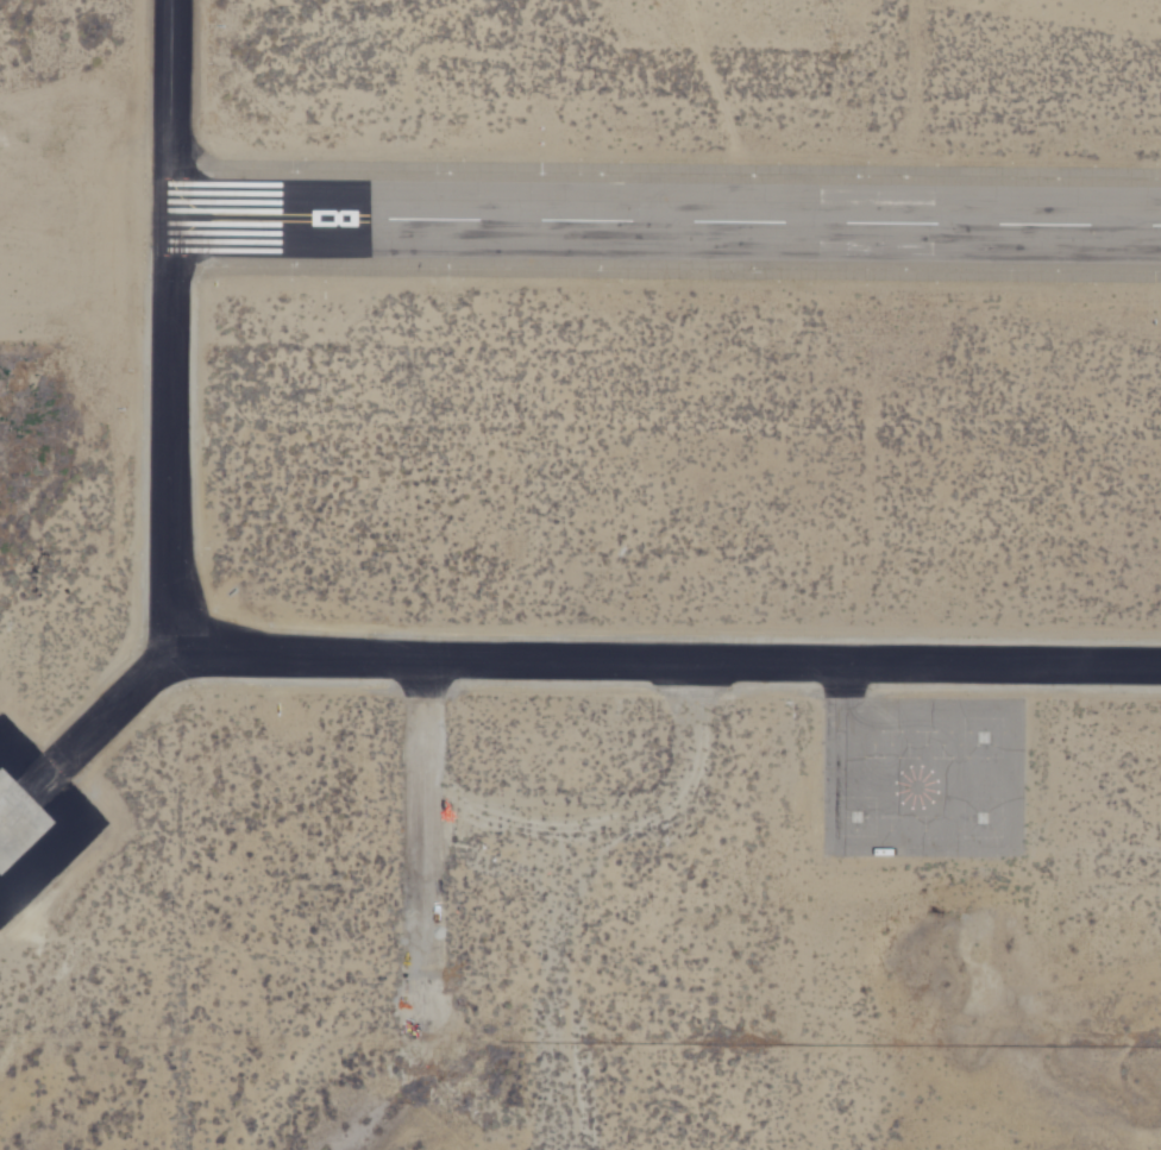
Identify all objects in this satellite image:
airport runway: (666, 201)
airport: (580, 574)
airport taxiway: (333, 658)

